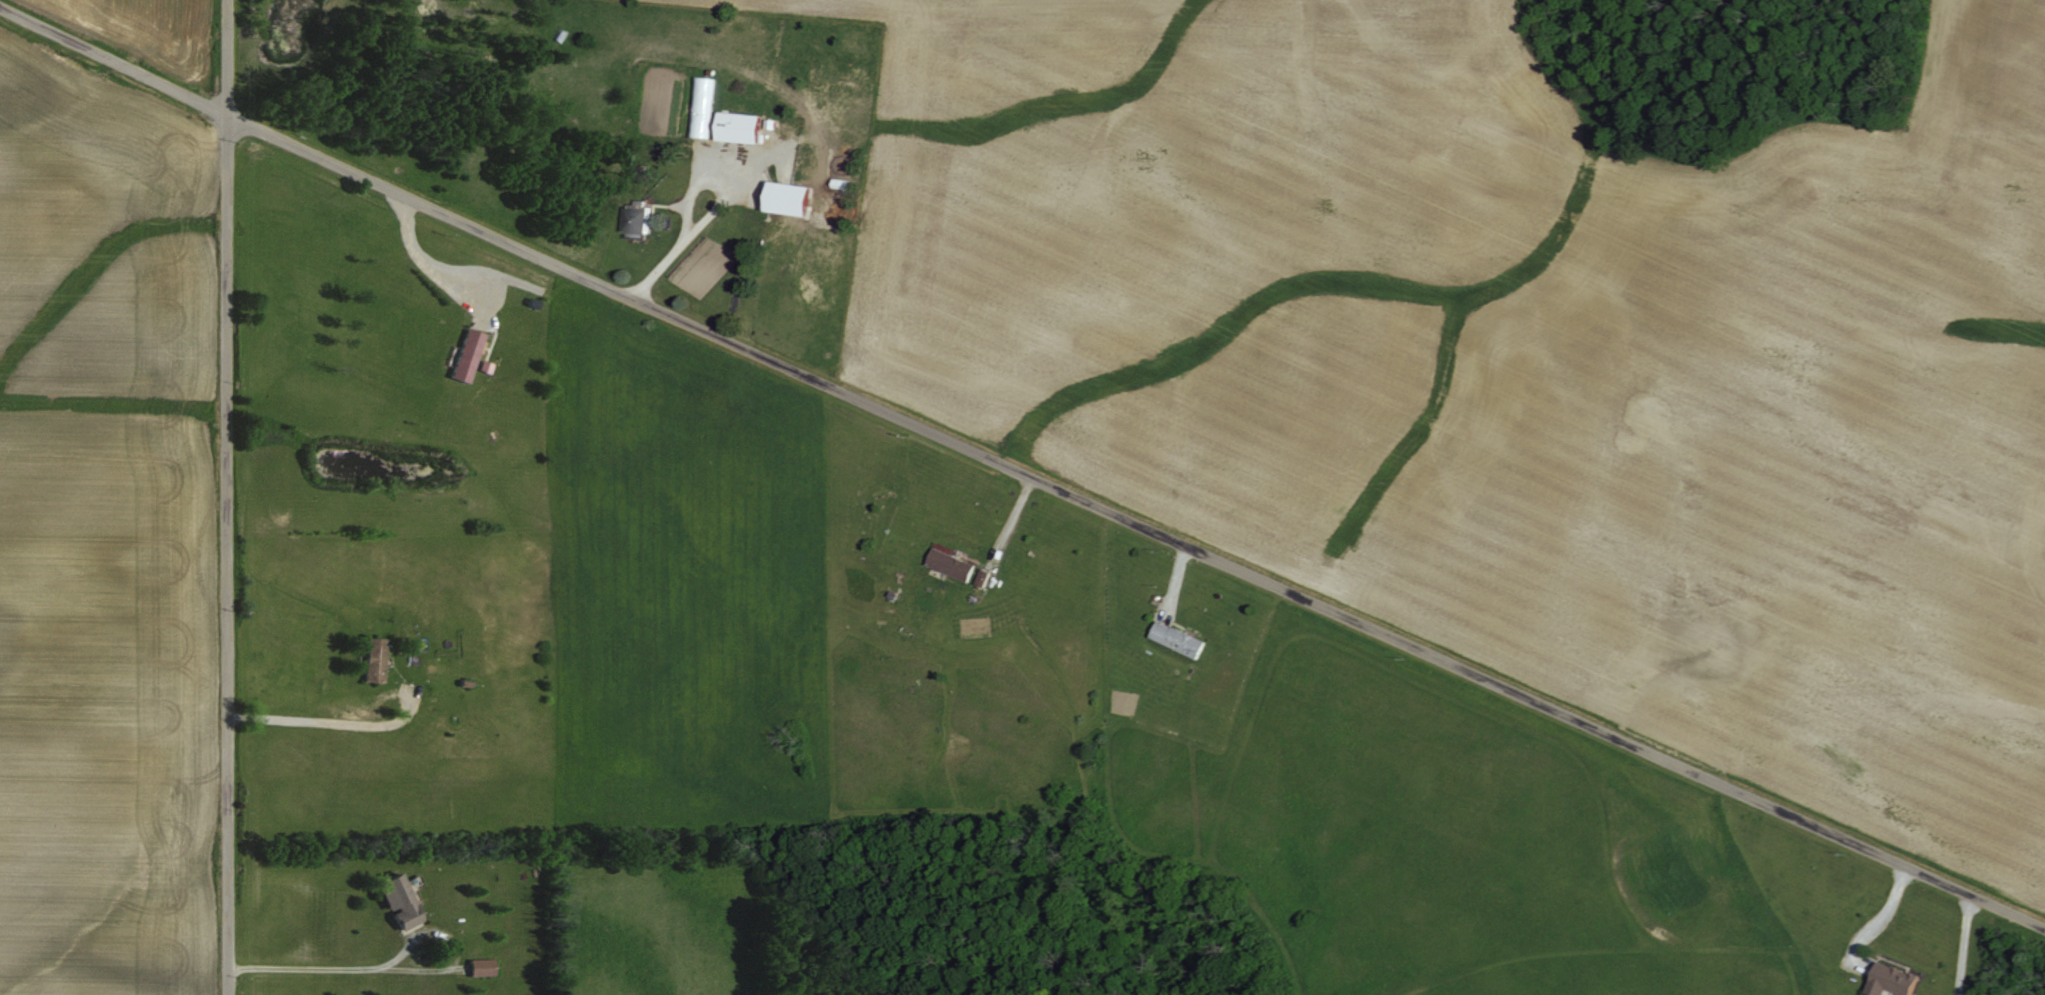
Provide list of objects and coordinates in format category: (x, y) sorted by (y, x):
building: (700, 107)
building: (733, 127)
building: (783, 199)
road: (713, 207)
building: (632, 220)
road: (448, 281)
building: (463, 355)
road: (1018, 473)
road: (226, 497)
building: (949, 564)
building: (981, 577)
building: (1175, 639)
building: (377, 658)
road: (329, 717)
building: (402, 901)
road: (1964, 944)
road: (395, 964)
building: (484, 966)
building: (1888, 980)

